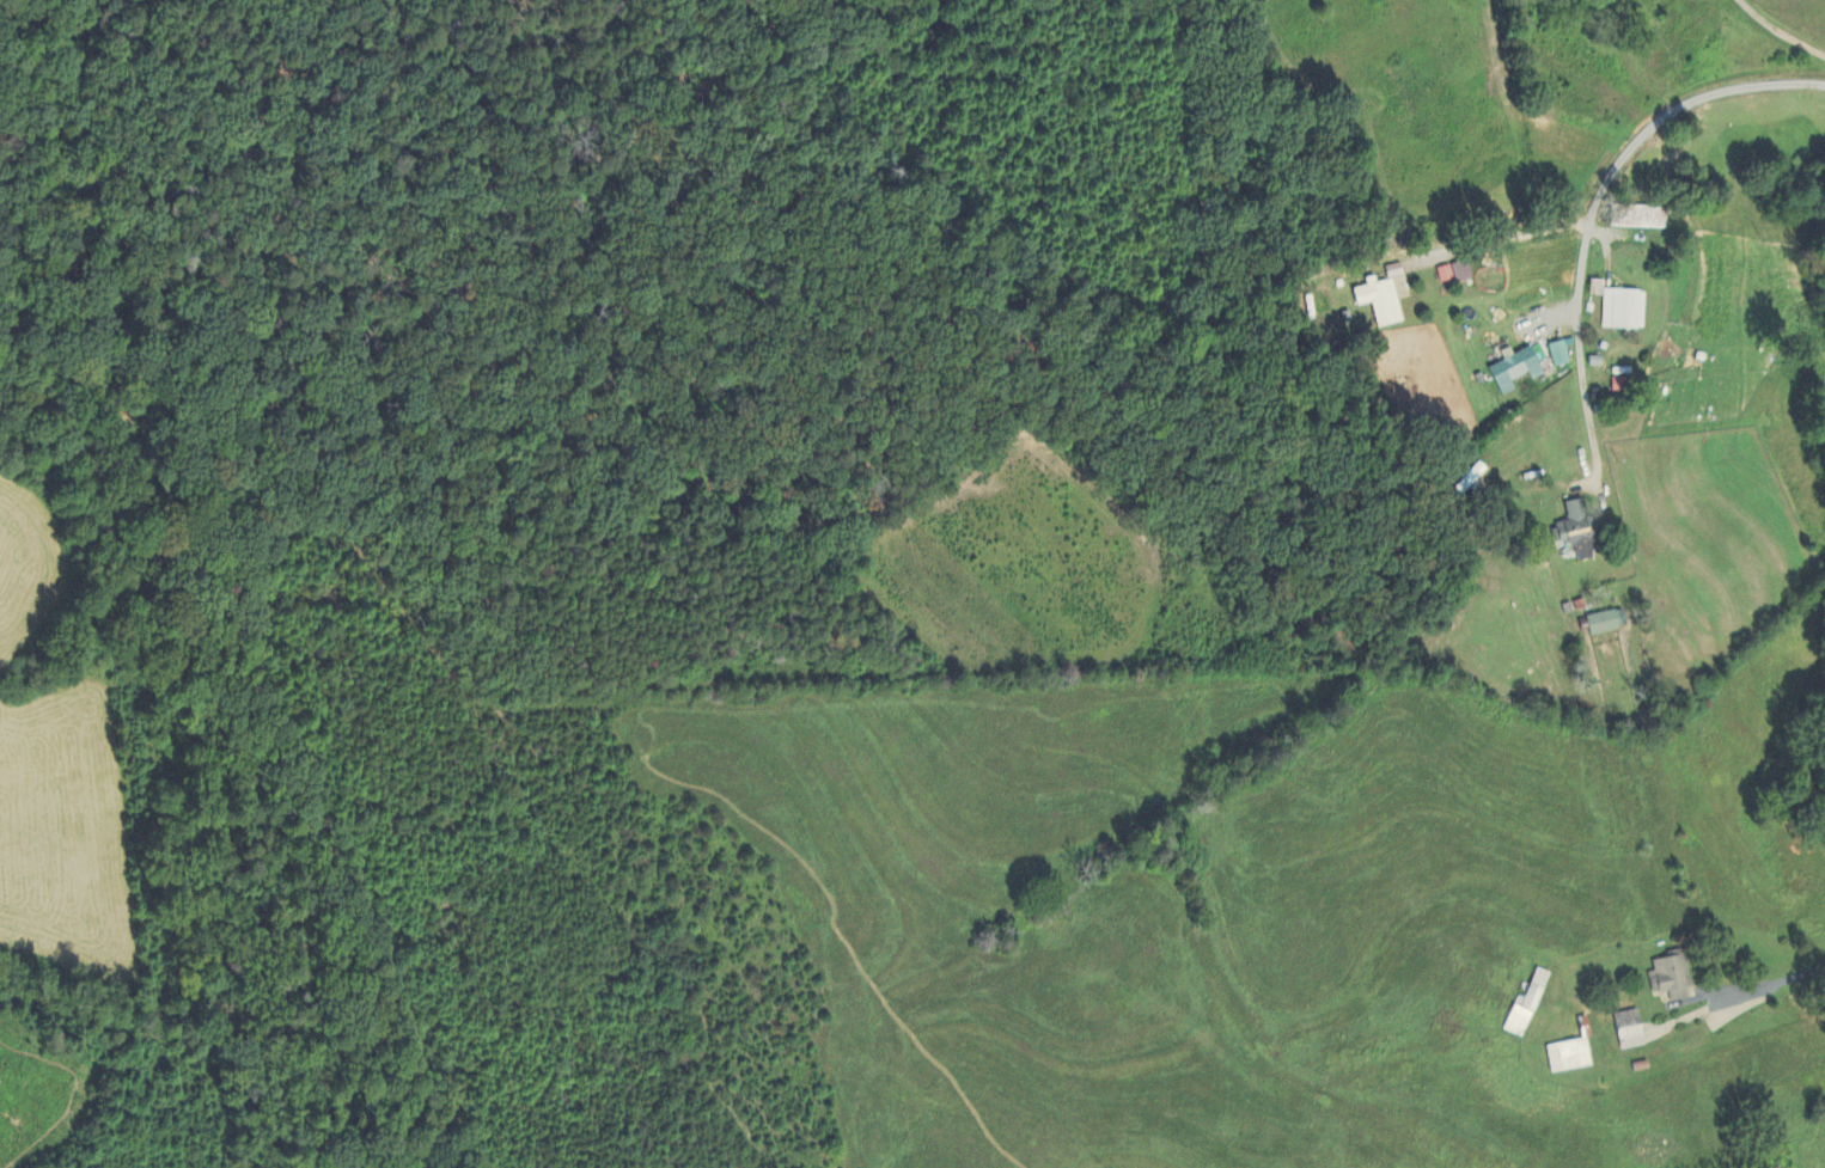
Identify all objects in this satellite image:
road: (1780, 30)
road: (1593, 209)
building: (1637, 219)
road: (1483, 246)
building: (1452, 274)
building: (1379, 298)
building: (1620, 311)
building: (1558, 354)
building: (1510, 371)
building: (1469, 481)
building: (1573, 532)
building: (1604, 623)
building: (1671, 979)
road: (1764, 989)
building: (1524, 1008)
building: (1626, 1032)
building: (1567, 1057)

